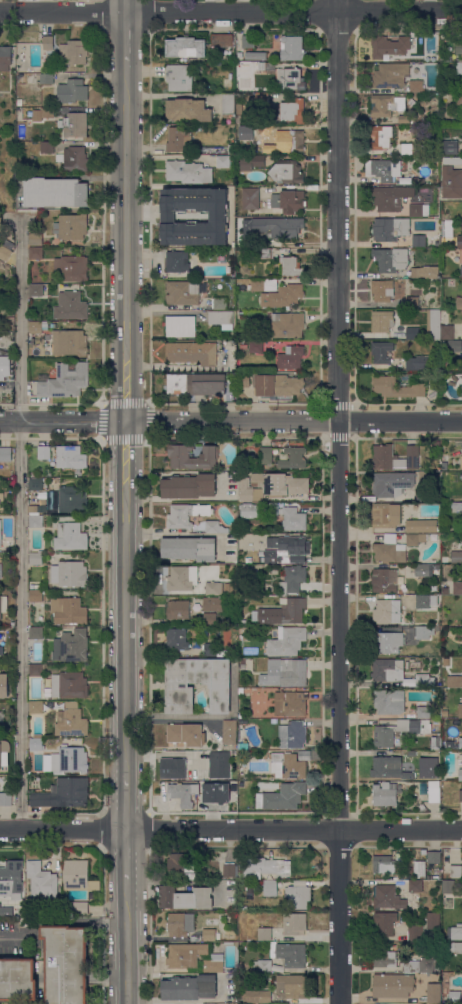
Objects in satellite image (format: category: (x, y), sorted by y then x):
road: (126, 5)
road: (231, 11)
road: (126, 39)
building: (221, 40)
building: (248, 41)
building: (48, 42)
building: (185, 47)
building: (389, 47)
building: (459, 47)
building: (291, 48)
building: (73, 52)
building: (256, 55)
building: (5, 57)
building: (270, 65)
building: (459, 66)
building: (391, 75)
building: (179, 77)
building: (46, 78)
building: (291, 79)
building: (416, 86)
building: (76, 90)
building: (261, 98)
building: (459, 98)
building: (228, 103)
building: (386, 104)
building: (188, 110)
building: (292, 111)
building: (47, 112)
building: (406, 118)
building: (74, 124)
building: (194, 127)
building: (199, 127)
building: (269, 128)
building: (381, 137)
building: (178, 139)
building: (292, 141)
building: (46, 147)
building: (450, 147)
building: (406, 148)
building: (420, 148)
building: (73, 158)
building: (457, 160)
building: (222, 161)
building: (253, 162)
building: (383, 169)
building: (187, 172)
building: (287, 172)
building: (451, 182)
building: (54, 192)
building: (390, 197)
building: (250, 198)
building: (288, 201)
building: (418, 210)
road: (126, 216)
building: (193, 216)
building: (219, 216)
building: (71, 226)
building: (278, 227)
building: (390, 228)
building: (35, 239)
building: (418, 240)
building: (459, 241)
building: (6, 248)
building: (35, 253)
building: (265, 253)
building: (390, 259)
building: (176, 261)
building: (291, 266)
building: (71, 267)
building: (461, 271)
building: (425, 272)
building: (263, 284)
building: (35, 290)
building: (382, 290)
building: (184, 292)
building: (283, 296)
building: (412, 302)
building: (458, 302)
building: (219, 303)
building: (70, 305)
building: (444, 317)
building: (221, 319)
building: (381, 322)
building: (287, 324)
building: (433, 324)
building: (37, 326)
building: (180, 326)
building: (446, 332)
building: (413, 333)
building: (69, 342)
building: (256, 346)
building: (454, 346)
building: (382, 351)
building: (192, 352)
building: (291, 357)
building: (418, 363)
building: (4, 364)
building: (64, 380)
building: (243, 380)
building: (199, 384)
building: (278, 384)
building: (398, 385)
road: (126, 393)
road: (63, 420)
road: (294, 420)
building: (266, 451)
building: (44, 452)
building: (29, 453)
building: (5, 454)
building: (178, 455)
building: (71, 457)
building: (395, 457)
building: (444, 457)
building: (293, 458)
building: (461, 461)
building: (444, 465)
building: (34, 474)
building: (280, 483)
building: (36, 484)
building: (386, 485)
building: (189, 486)
building: (246, 490)
building: (422, 495)
building: (68, 500)
building: (1, 501)
building: (42, 501)
road: (338, 502)
building: (457, 505)
building: (33, 508)
building: (252, 510)
building: (187, 514)
building: (386, 515)
building: (291, 517)
building: (0, 518)
building: (36, 521)
road: (19, 522)
building: (421, 525)
building: (214, 526)
building: (0, 532)
road: (180, 534)
building: (70, 536)
building: (415, 538)
building: (190, 548)
building: (287, 549)
building: (389, 549)
building: (261, 552)
building: (36, 557)
building: (456, 557)
building: (248, 559)
building: (261, 559)
building: (444, 559)
building: (437, 566)
building: (423, 570)
building: (1, 571)
building: (70, 573)
building: (182, 578)
building: (292, 579)
building: (384, 580)
building: (457, 587)
building: (221, 588)
building: (444, 590)
building: (36, 593)
building: (243, 600)
building: (426, 601)
building: (213, 603)
building: (3, 604)
building: (178, 609)
building: (69, 610)
building: (387, 611)
building: (281, 612)
building: (209, 619)
building: (243, 622)
road: (126, 624)
building: (36, 632)
building: (424, 632)
building: (177, 639)
building: (287, 640)
building: (387, 642)
building: (71, 646)
building: (1, 649)
building: (210, 649)
building: (242, 662)
building: (37, 669)
building: (388, 670)
building: (285, 673)
building: (424, 680)
building: (454, 681)
building: (3, 685)
building: (69, 685)
building: (177, 685)
building: (240, 691)
building: (389, 701)
building: (73, 703)
building: (290, 703)
building: (50, 705)
building: (36, 707)
building: (459, 711)
building: (423, 712)
building: (240, 714)
building: (1, 719)
building: (71, 721)
building: (274, 721)
building: (230, 732)
building: (185, 734)
building: (292, 734)
building: (384, 735)
building: (434, 742)
building: (36, 743)
building: (460, 743)
building: (242, 749)
building: (249, 752)
building: (3, 757)
building: (69, 760)
building: (218, 763)
building: (180, 764)
building: (288, 765)
building: (389, 768)
building: (460, 774)
building: (434, 791)
building: (216, 792)
building: (63, 793)
building: (183, 793)
building: (384, 795)
building: (460, 796)
building: (282, 797)
building: (6, 799)
road: (230, 829)
building: (423, 851)
road: (126, 853)
building: (278, 853)
building: (434, 856)
building: (180, 864)
building: (383, 864)
building: (264, 867)
building: (229, 869)
building: (436, 871)
building: (456, 871)
building: (78, 876)
building: (11, 880)
building: (42, 882)
building: (415, 885)
building: (448, 886)
building: (270, 888)
building: (297, 896)
building: (185, 897)
building: (388, 897)
building: (77, 908)
building: (244, 908)
building: (6, 910)
building: (432, 920)
road: (83, 921)
building: (385, 922)
building: (294, 923)
building: (180, 924)
building: (459, 924)
building: (264, 933)
building: (415, 933)
building: (454, 933)
building: (208, 934)
building: (218, 936)
building: (429, 937)
road: (24, 938)
building: (195, 938)
road: (127, 940)
building: (454, 947)
building: (235, 953)
building: (289, 954)
building: (186, 955)
building: (383, 956)
building: (214, 963)
building: (66, 964)
building: (422, 965)
building: (262, 966)
building: (18, 979)
building: (393, 985)
building: (291, 986)
building: (189, 987)
building: (434, 993)
building: (256, 996)
building: (455, 997)
building: (40, 1002)

